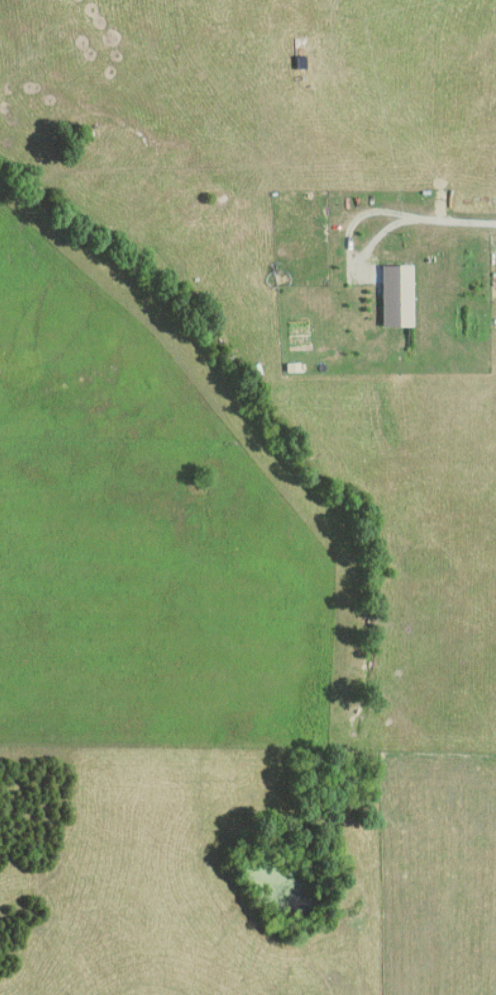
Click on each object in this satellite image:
road: (457, 222)
road: (351, 247)
building: (401, 296)

